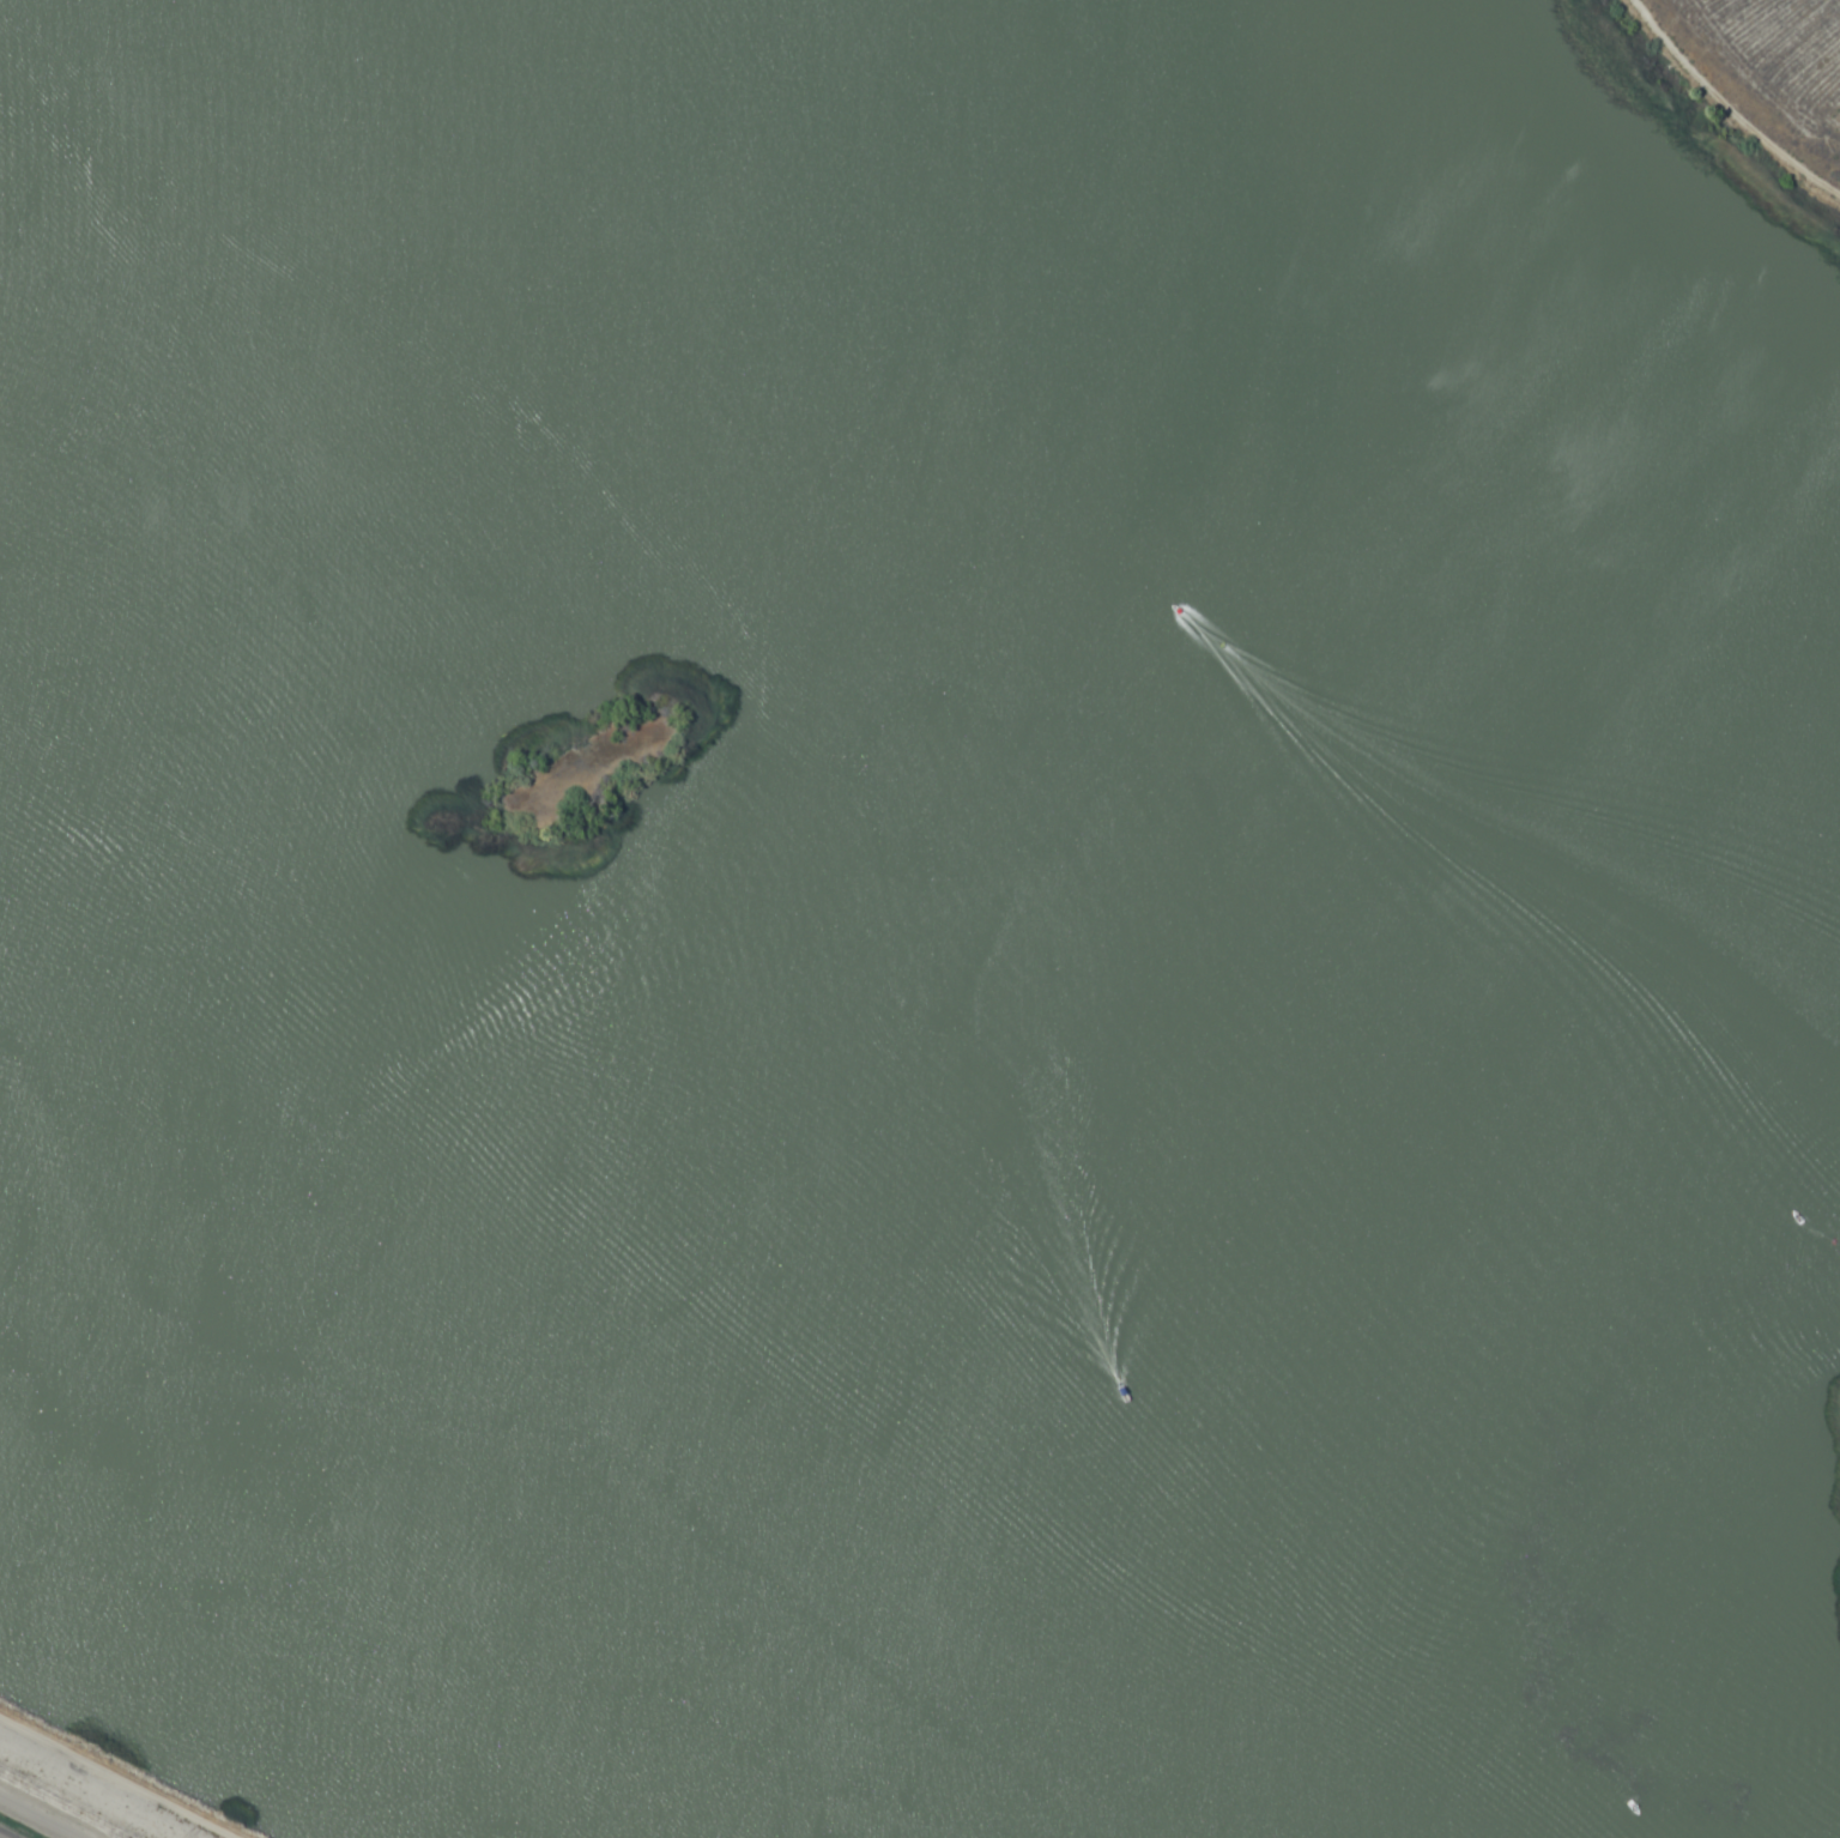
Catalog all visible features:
crop: (128, 1772)

